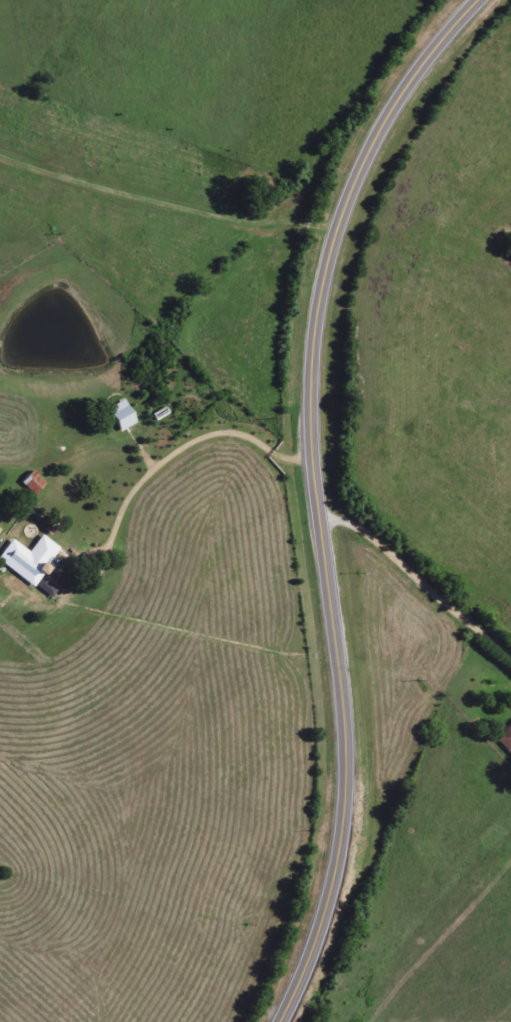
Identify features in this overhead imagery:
building: (121, 416)
building: (32, 483)
road: (320, 494)
building: (28, 559)
road: (420, 580)
building: (505, 739)

